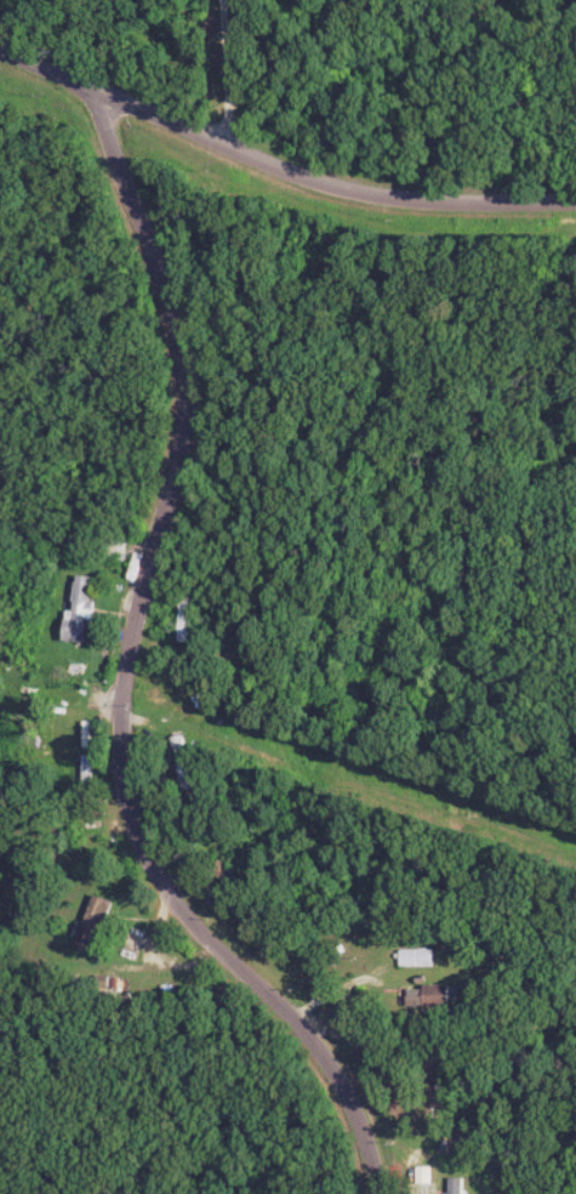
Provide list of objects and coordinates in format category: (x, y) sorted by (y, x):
road: (223, 73)
road: (276, 167)
building: (81, 610)
road: (126, 661)
building: (87, 772)
building: (96, 923)
building: (420, 957)
building: (435, 995)

